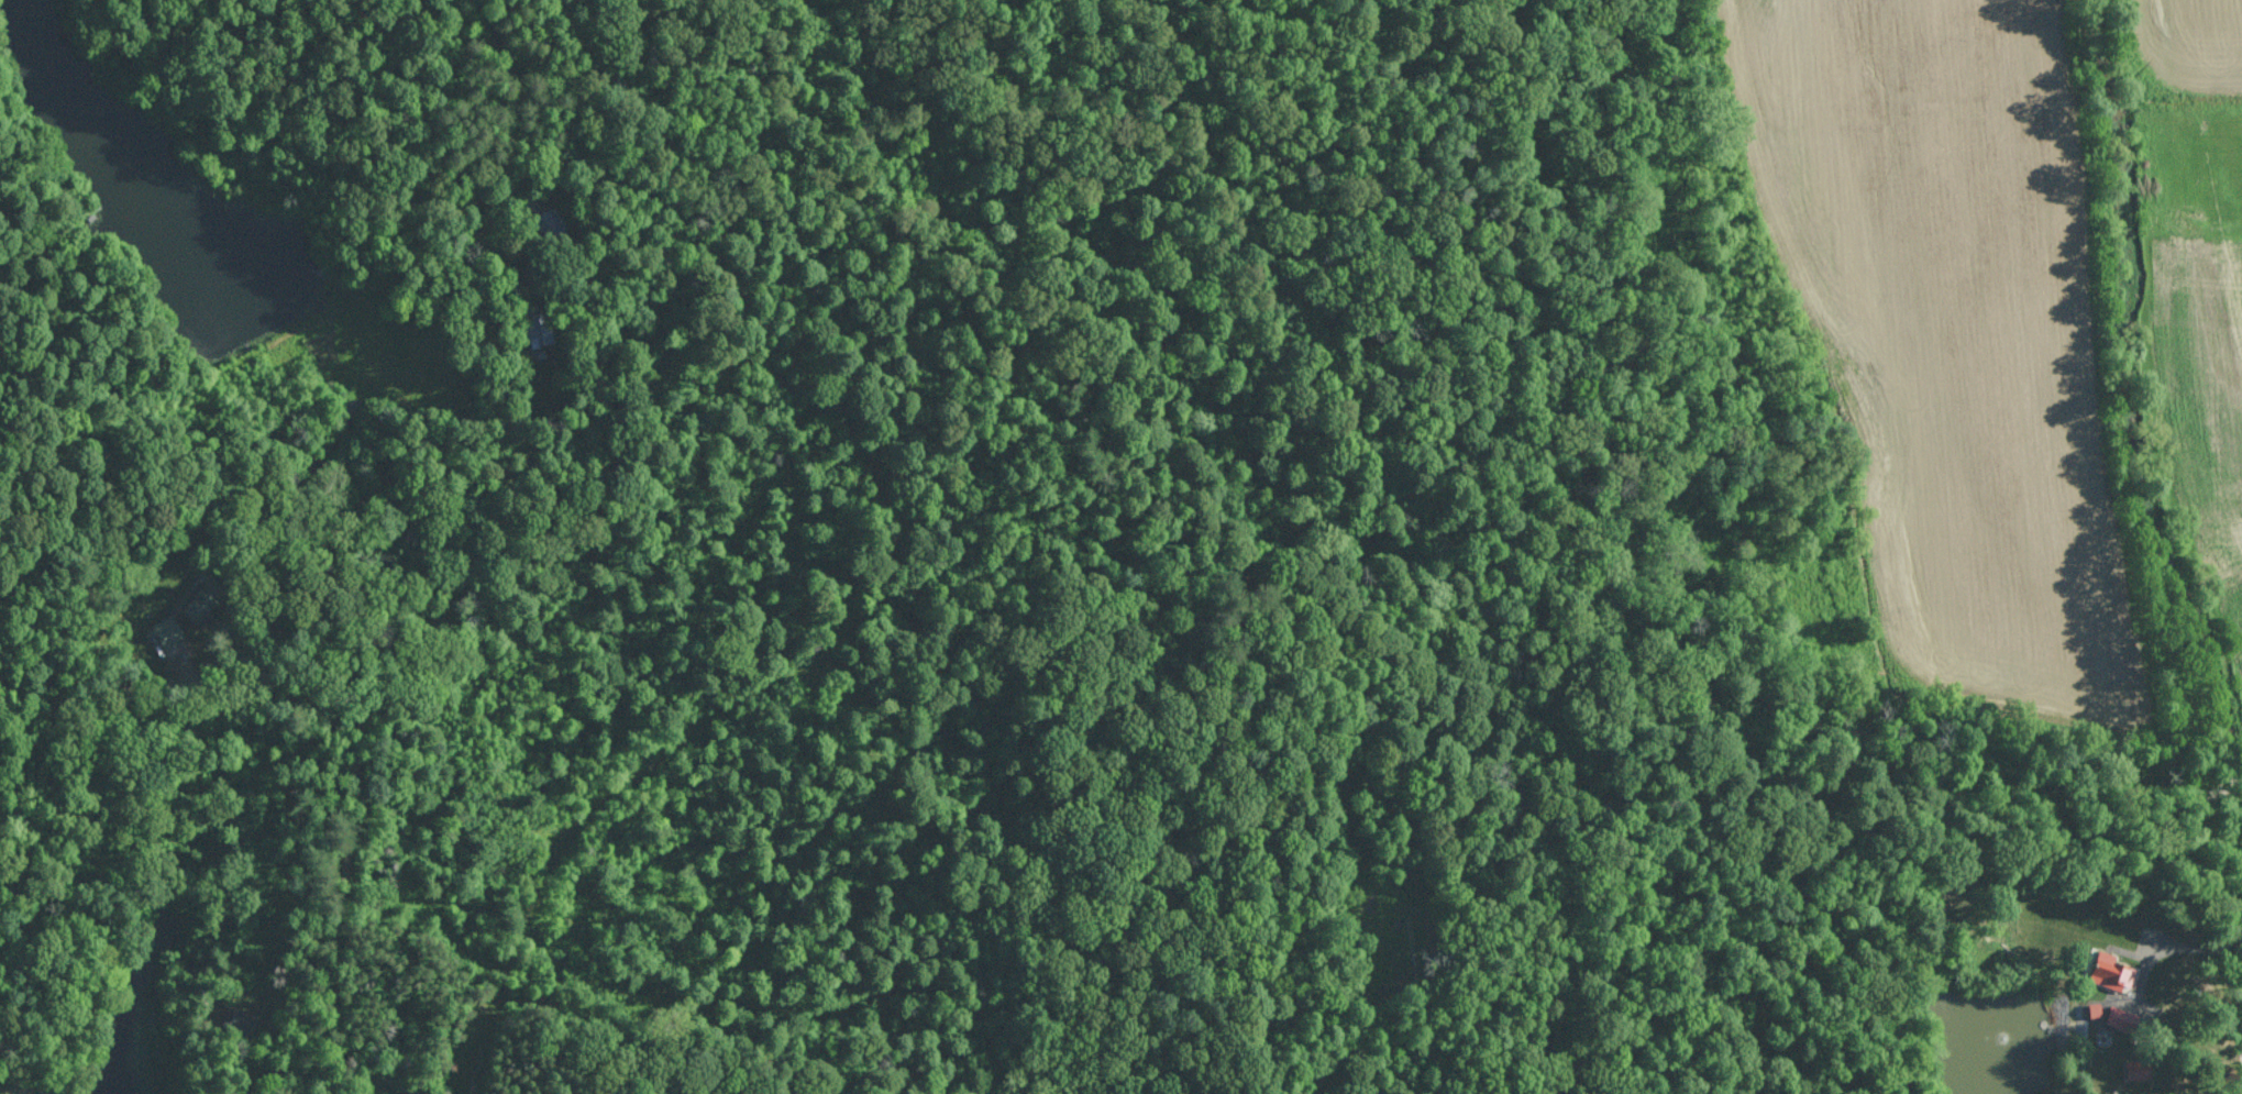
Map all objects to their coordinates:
road: (502, 85)
building: (532, 329)
building: (200, 599)
building: (167, 631)
road: (329, 723)
road: (2241, 775)
road: (2231, 903)
building: (2112, 970)
building: (2121, 1018)
building: (239, 1020)
building: (2139, 1068)

